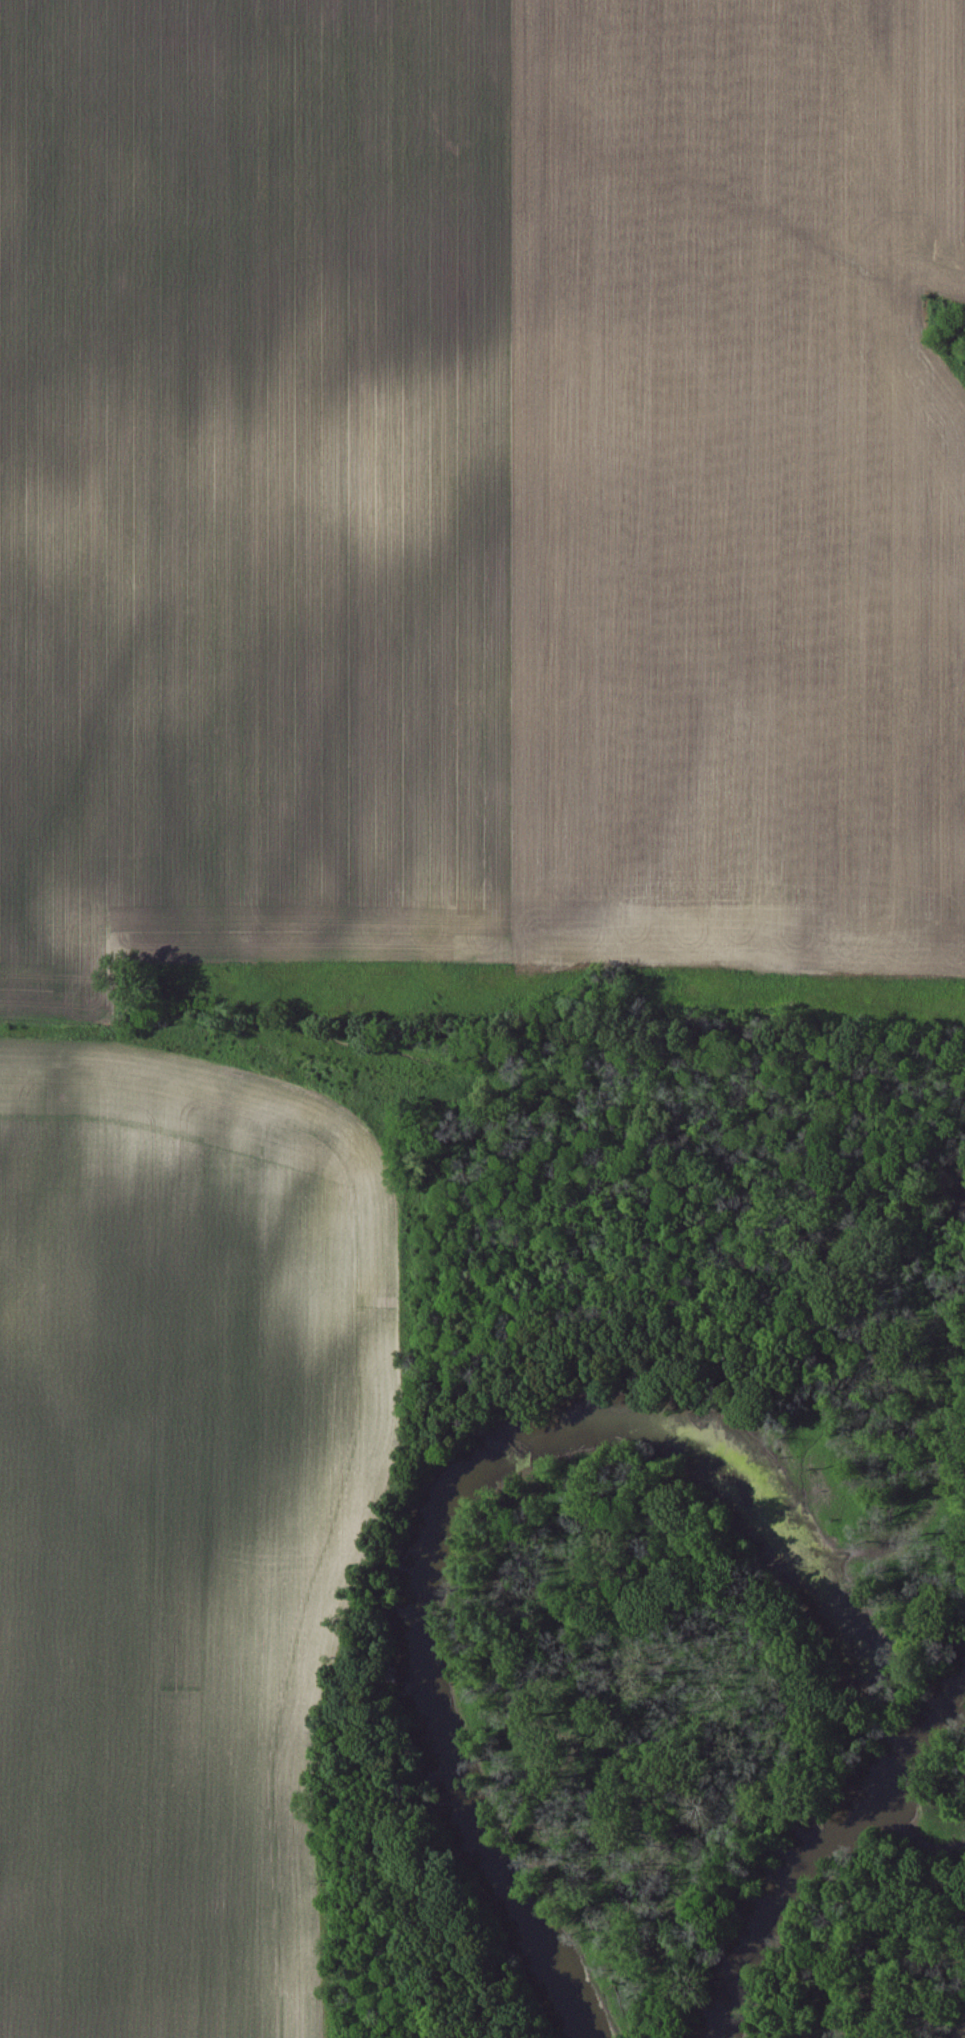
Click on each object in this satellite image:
river: (825, 1851)

